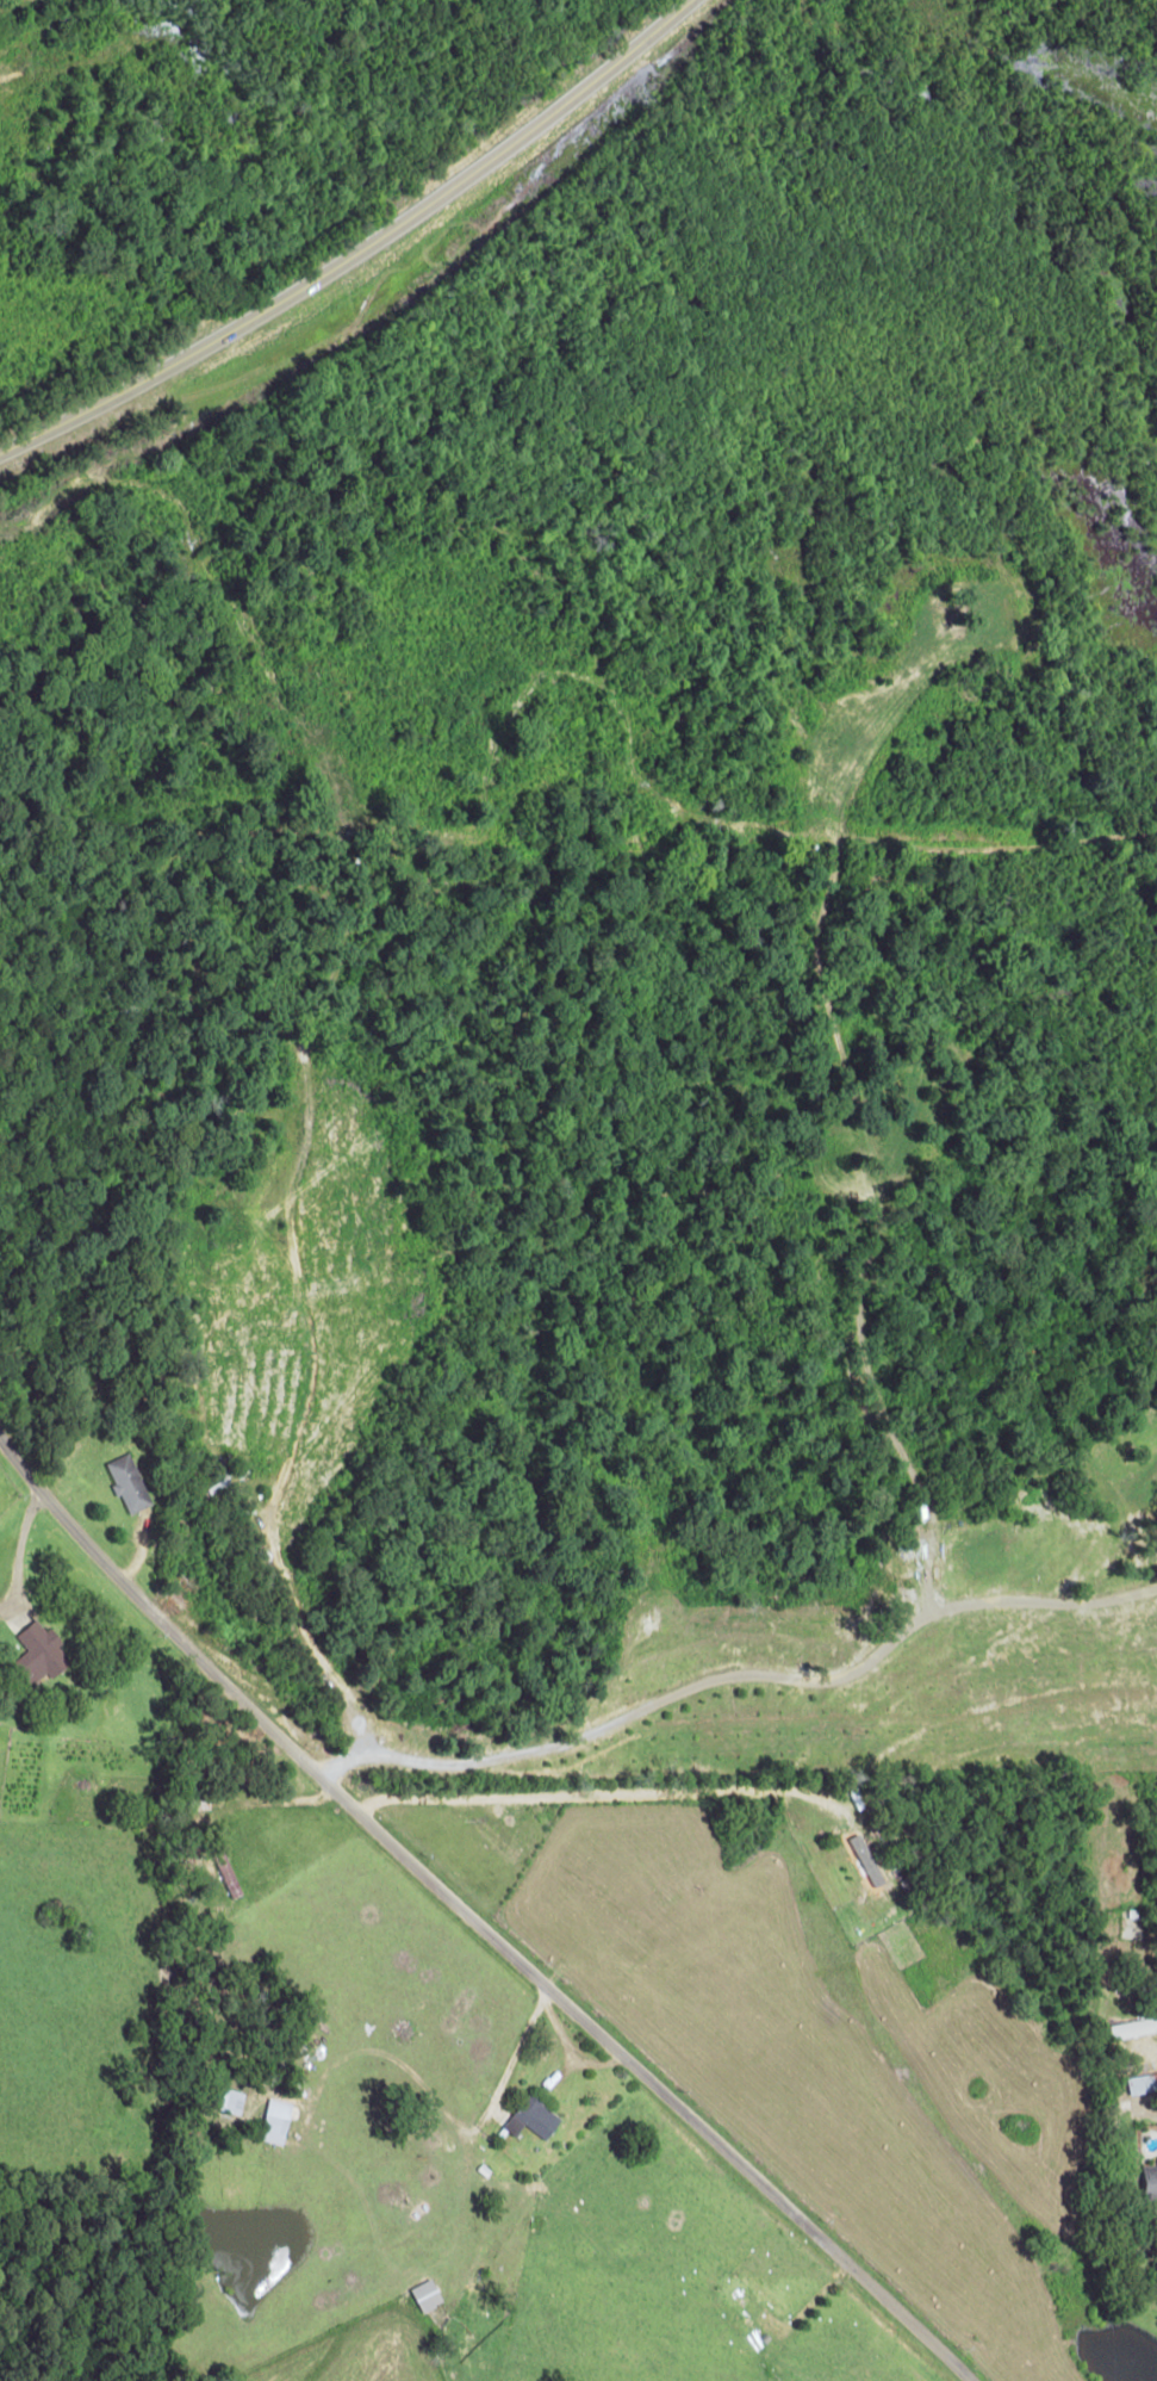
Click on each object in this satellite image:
road: (359, 248)
building: (127, 1483)
building: (42, 1651)
road: (477, 1905)
building: (534, 2118)
building: (278, 2121)
building: (1145, 2181)
road: (634, 2265)
building: (429, 2295)
road: (1047, 2339)

